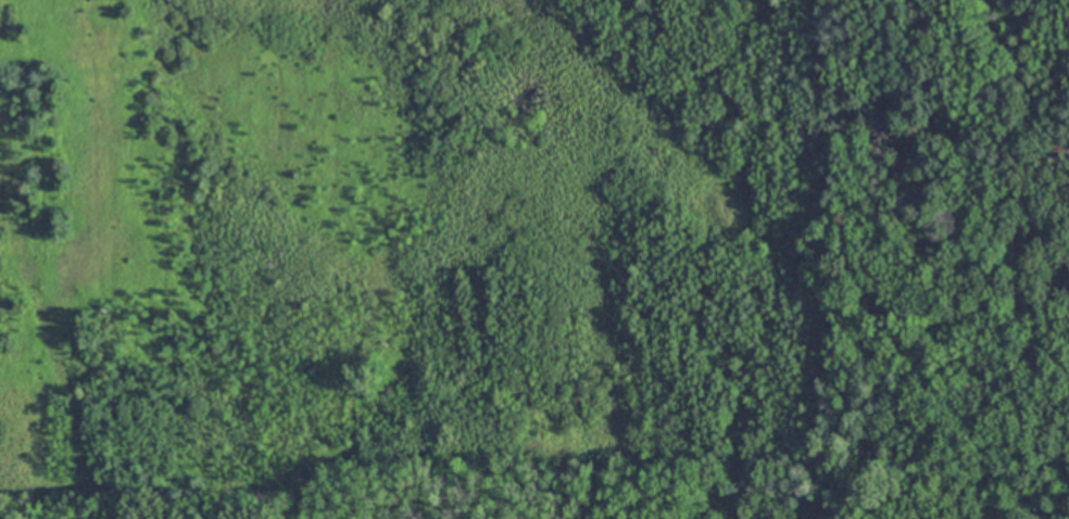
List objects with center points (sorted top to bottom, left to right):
building: (1068, 276)
building: (1062, 291)

